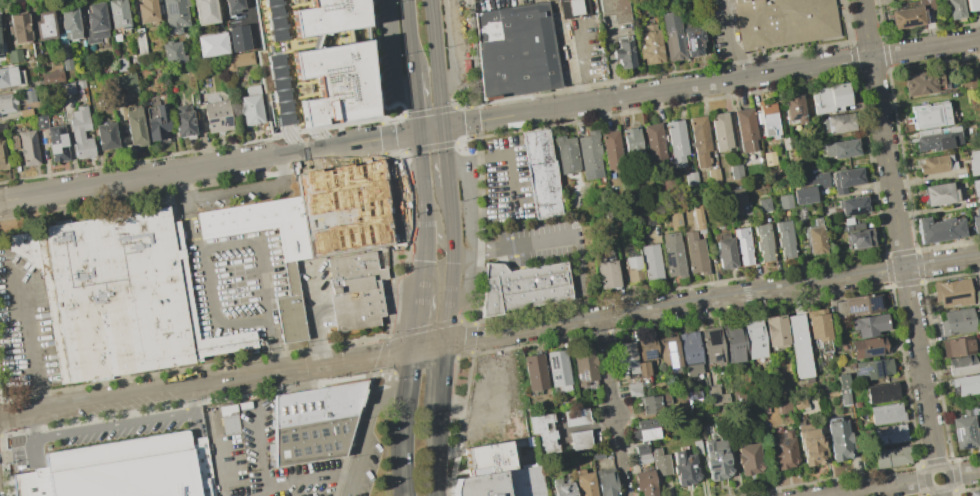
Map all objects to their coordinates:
building: (972, 4)
road: (979, 4)
rooftop solar panel: (171, 6)
building: (232, 6)
building: (574, 7)
building: (954, 9)
building: (617, 10)
building: (146, 11)
building: (204, 11)
building: (117, 13)
building: (174, 15)
building: (906, 17)
rooftop solar panel: (527, 18)
rooftop solar panel: (908, 19)
building: (69, 22)
building: (94, 23)
building: (784, 23)
building: (44, 25)
rooftop solar panel: (504, 26)
building: (18, 27)
parking lot: (723, 28)
road: (409, 36)
building: (673, 37)
building: (237, 38)
building: (140, 41)
road: (727, 41)
parking lot: (456, 42)
building: (649, 43)
building: (211, 44)
building: (694, 45)
road: (435, 46)
parking lot: (390, 48)
road: (453, 48)
road: (396, 50)
building: (516, 51)
building: (623, 52)
building: (171, 53)
rooftop solar panel: (520, 53)
road: (473, 55)
building: (14, 56)
rooftop solar panel: (549, 57)
rooftop solar panel: (498, 58)
building: (237, 60)
building: (66, 62)
building: (134, 62)
building: (314, 62)
road: (373, 63)
building: (121, 64)
rooftop solar panel: (548, 73)
building: (978, 75)
building: (10, 76)
building: (51, 77)
rooftop solar panel: (521, 78)
road: (726, 80)
road: (414, 82)
building: (920, 82)
building: (969, 82)
building: (125, 83)
building: (80, 84)
building: (66, 88)
building: (28, 94)
building: (830, 98)
building: (7, 103)
road: (462, 106)
building: (249, 109)
building: (793, 109)
road: (441, 110)
road: (416, 112)
road: (428, 112)
building: (929, 115)
building: (216, 116)
road: (472, 116)
rooftop solar panel: (211, 118)
rooftop solar panel: (226, 118)
road: (395, 119)
building: (768, 120)
building: (182, 121)
building: (158, 123)
building: (839, 123)
road: (458, 125)
building: (134, 126)
traffic signals: (443, 128)
road: (473, 128)
road: (431, 130)
building: (746, 130)
road: (388, 131)
building: (720, 131)
traffic signals: (419, 132)
building: (80, 133)
road: (404, 135)
building: (105, 136)
building: (53, 139)
building: (935, 139)
building: (699, 140)
road: (465, 141)
building: (632, 141)
building: (12, 142)
building: (653, 142)
building: (677, 143)
building: (787, 143)
road: (389, 144)
road: (443, 144)
building: (28, 147)
road: (429, 147)
building: (838, 149)
road: (420, 150)
building: (611, 150)
road: (397, 153)
building: (566, 154)
road: (508, 155)
building: (588, 156)
building: (2, 157)
building: (768, 157)
building: (972, 161)
road: (453, 164)
building: (935, 164)
road: (194, 169)
building: (734, 171)
road: (446, 174)
building: (713, 174)
building: (543, 175)
building: (690, 179)
building: (845, 179)
parking lot: (506, 181)
building: (668, 184)
building: (809, 187)
road: (248, 189)
building: (975, 190)
road: (424, 194)
building: (937, 194)
building: (738, 201)
building: (784, 201)
parking lot: (404, 204)
building: (763, 204)
building: (852, 205)
road: (406, 206)
building: (342, 209)
road: (469, 209)
building: (674, 217)
building: (697, 218)
building: (975, 221)
building: (938, 229)
road: (482, 230)
road: (898, 234)
building: (856, 235)
road: (437, 237)
building: (814, 238)
building: (784, 239)
road: (552, 241)
parking lot: (543, 242)
building: (763, 243)
road: (393, 244)
building: (741, 246)
road: (461, 252)
road: (474, 252)
road: (426, 253)
building: (695, 253)
building: (724, 253)
building: (673, 255)
rooftop solar panel: (668, 260)
building: (650, 261)
road: (452, 265)
building: (632, 269)
road: (203, 274)
building: (607, 275)
building: (290, 278)
road: (261, 279)
road: (468, 282)
building: (523, 287)
building: (354, 291)
building: (951, 293)
building: (114, 296)
road: (725, 297)
rooftop solar panel: (872, 299)
building: (858, 304)
rooftop solar panel: (850, 307)
road: (319, 316)
road: (420, 317)
road: (466, 322)
building: (956, 322)
building: (867, 324)
building: (816, 326)
parking lot: (24, 327)
road: (423, 329)
building: (774, 331)
road: (470, 332)
building: (754, 339)
road: (458, 340)
road: (29, 342)
building: (733, 343)
road: (469, 344)
road: (431, 345)
rooftop solar panel: (668, 345)
building: (712, 346)
building: (798, 346)
building: (957, 346)
road: (386, 347)
building: (866, 347)
building: (645, 348)
rooftop solar panel: (871, 349)
road: (400, 351)
rooftop solar panel: (647, 351)
building: (668, 351)
building: (690, 352)
road: (463, 356)
building: (625, 357)
rooftop solar panel: (671, 358)
road: (382, 361)
road: (424, 364)
building: (960, 365)
building: (585, 366)
rooftop solar panel: (876, 367)
building: (642, 368)
road: (413, 369)
rooftop solar panel: (860, 369)
building: (870, 369)
building: (558, 371)
building: (534, 372)
road: (386, 374)
road: (442, 382)
building: (964, 385)
road: (192, 386)
road: (381, 386)
building: (633, 389)
building: (843, 389)
building: (782, 390)
building: (692, 393)
building: (882, 393)
road: (384, 396)
building: (716, 396)
building: (664, 400)
building: (799, 403)
building: (650, 404)
building: (784, 405)
road: (612, 407)
building: (886, 413)
building: (575, 417)
building: (228, 419)
building: (315, 422)
road: (459, 422)
road: (126, 423)
road: (32, 426)
rooftop solar panel: (342, 426)
road: (579, 427)
rooftop solar panel: (331, 429)
building: (645, 429)
road: (355, 430)
road: (366, 430)
rooftop solar panel: (953, 430)
building: (544, 431)
rooftop solar panel: (322, 432)
building: (962, 432)
rooftop solar panel: (312, 433)
building: (891, 434)
parking lot: (92, 435)
rooftop solar panel: (304, 435)
rooftop solar panel: (291, 437)
rooftop solar panel: (279, 439)
building: (579, 439)
building: (840, 439)
road: (405, 440)
building: (811, 444)
rooftop solar panel: (333, 445)
rooftop solar panel: (965, 445)
rooftop solar panel: (321, 446)
building: (697, 446)
rooftop solar panel: (706, 446)
rooftop solar panel: (315, 448)
road: (264, 449)
building: (639, 449)
building: (784, 449)
rooftop solar panel: (291, 450)
rooftop solar panel: (304, 450)
road: (387, 452)
road: (217, 453)
building: (599, 453)
building: (892, 456)
building: (643, 458)
building: (749, 458)
road: (435, 459)
building: (486, 459)
building: (716, 459)
rooftop solar panel: (723, 460)
building: (659, 462)
rooftop solar panel: (711, 464)
parking lot: (363, 465)
building: (684, 465)
building: (125, 469)
rooftop solar panel: (711, 472)
road: (947, 473)
road: (964, 474)
road: (306, 482)
building: (583, 482)
building: (605, 482)
building: (643, 482)
building: (502, 483)
building: (563, 486)
road: (880, 488)
traffic signals: (405, 490)
road: (940, 492)
road: (404, 493)
road: (406, 493)
building: (973, 493)
traffic signals: (435, 495)

